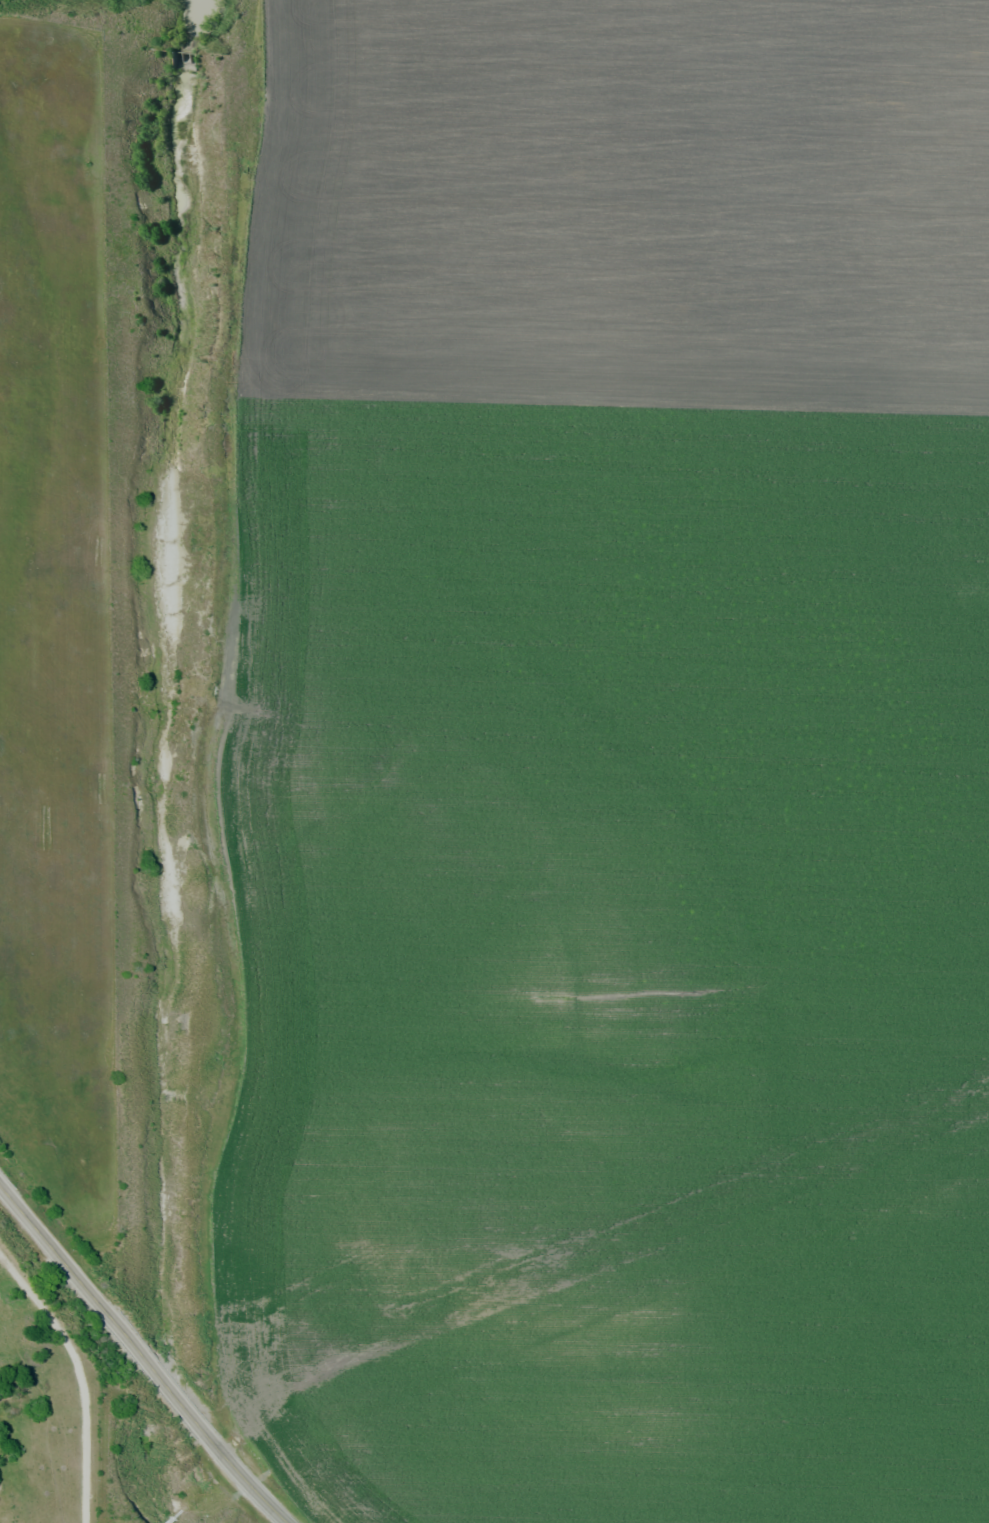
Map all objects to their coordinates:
road: (139, 1354)
road: (83, 1374)

